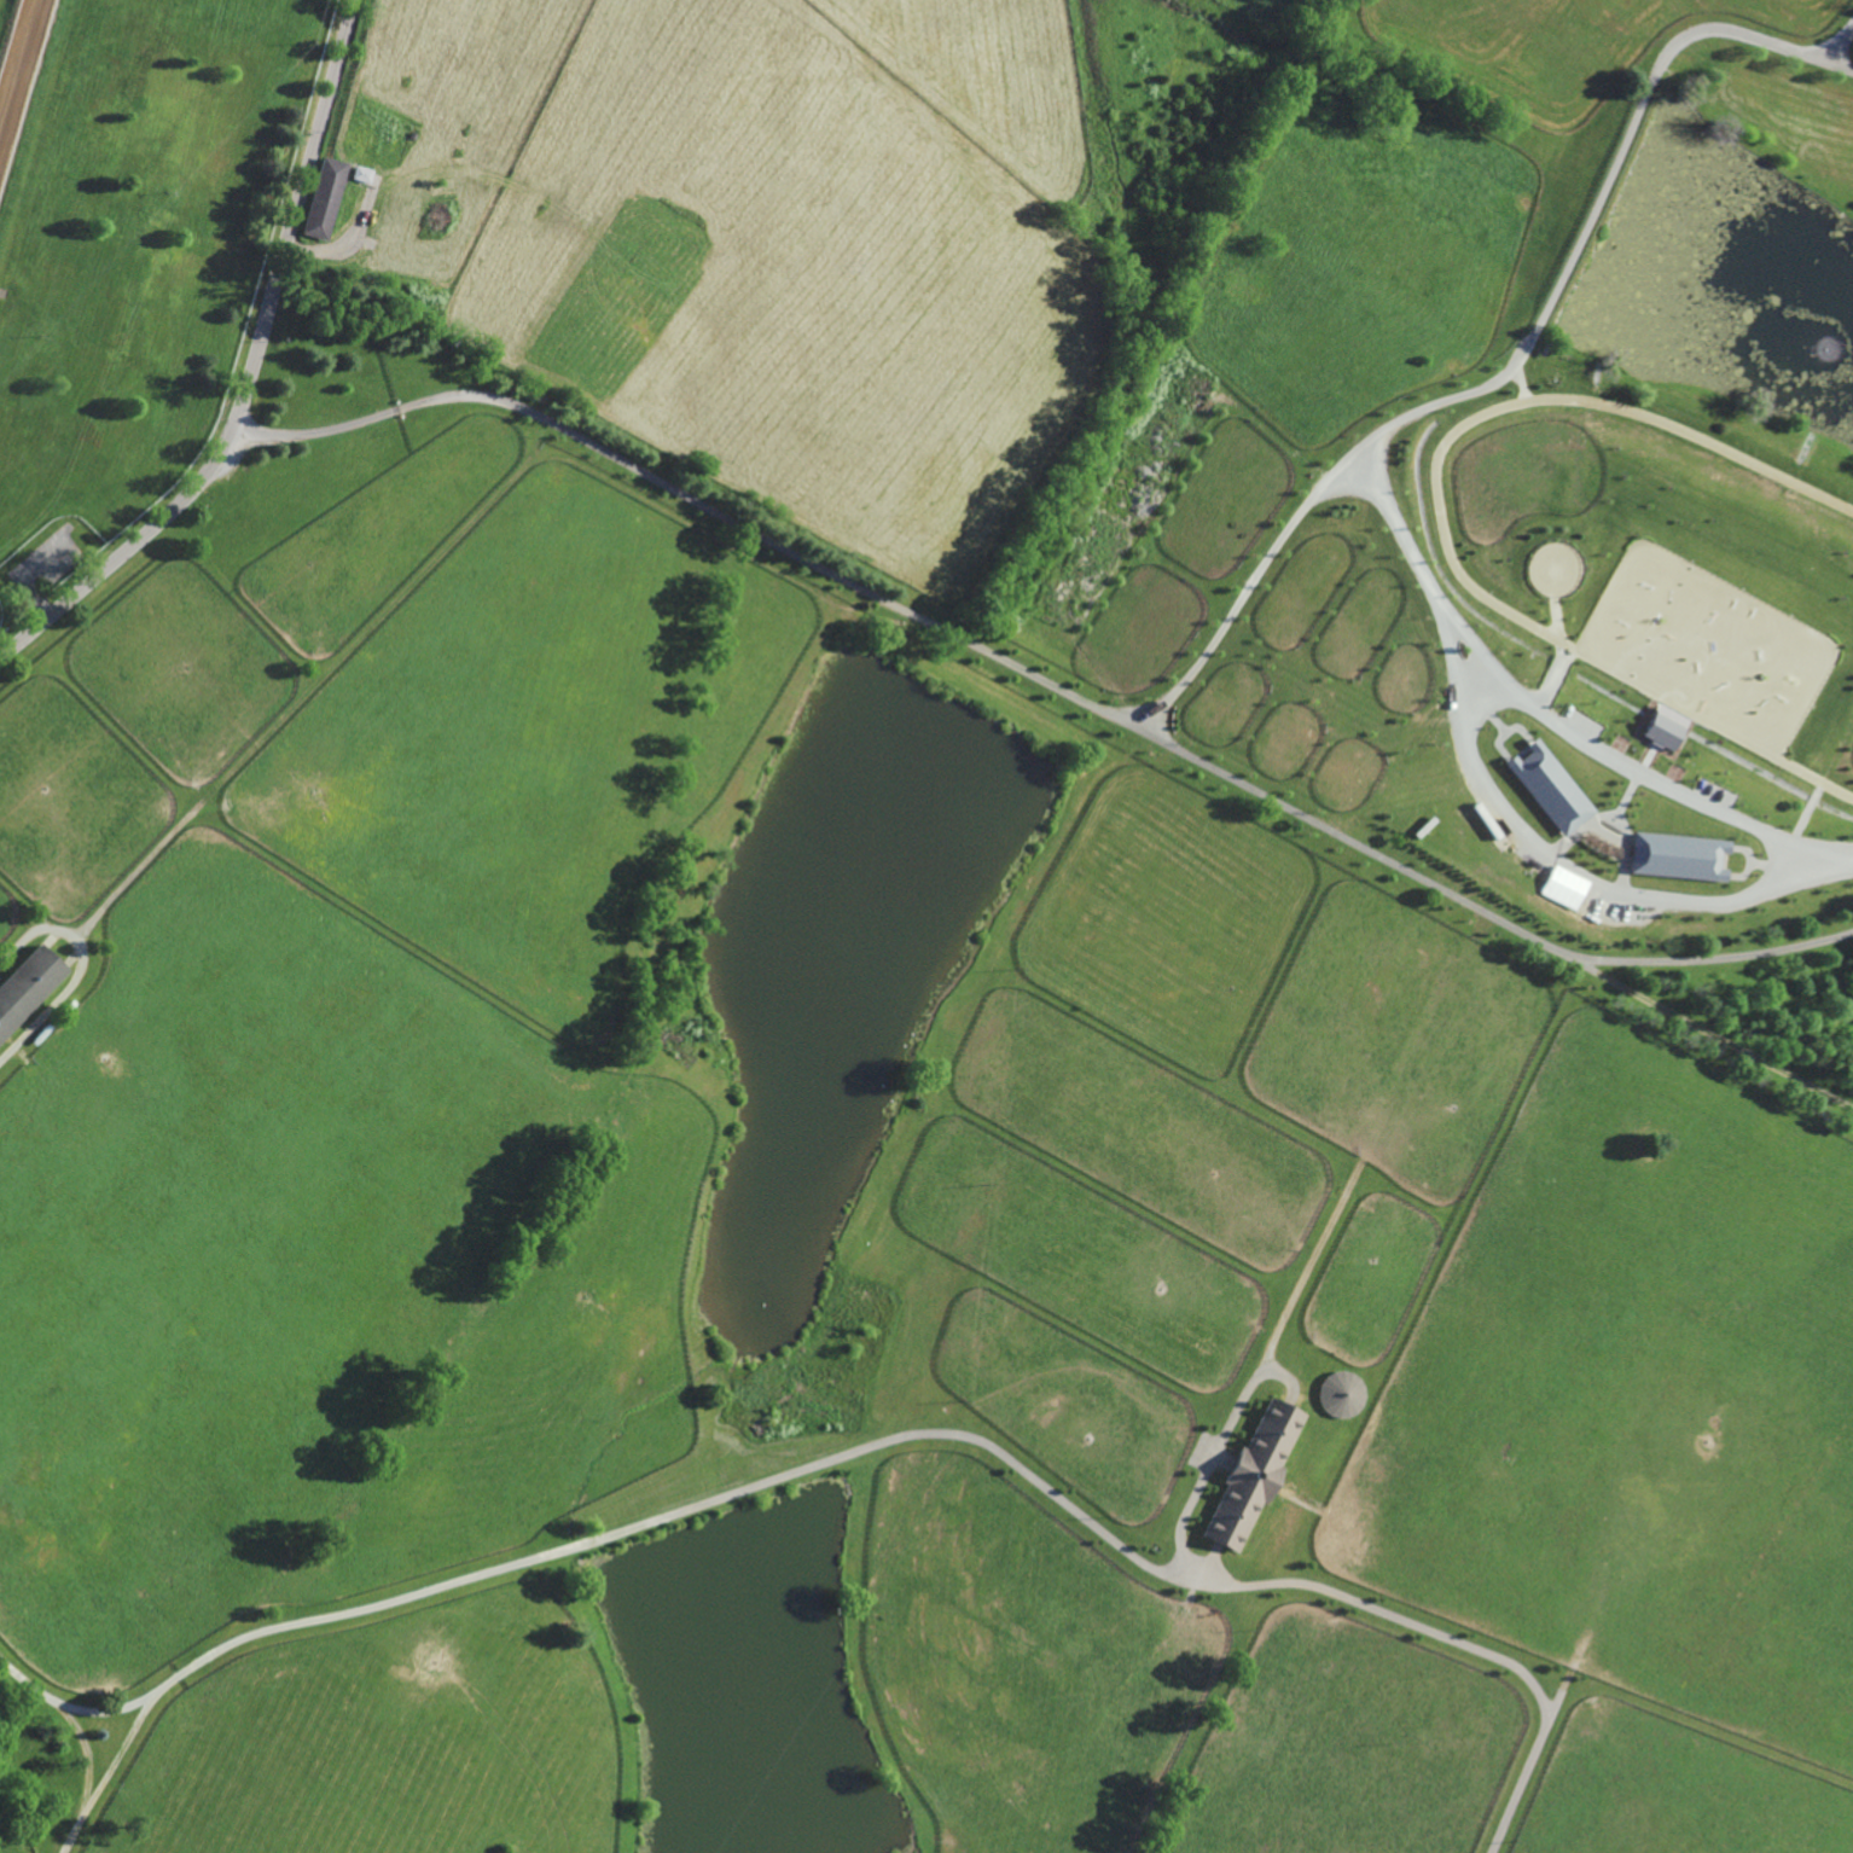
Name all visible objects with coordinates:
road: (1845, 64)
building: (412, 134)
road: (501, 165)
building: (360, 172)
building: (323, 197)
building: (406, 295)
road: (1515, 362)
road: (251, 373)
building: (10, 586)
road: (1040, 689)
building: (1663, 726)
road: (1608, 766)
building: (1549, 786)
road: (1493, 819)
building: (1675, 855)
building: (1566, 887)
road: (79, 969)
building: (28, 983)
road: (1718, 1038)
building: (1251, 1474)
road: (777, 1475)
road: (1442, 1634)
road: (121, 1750)
road: (86, 1756)
road: (71, 1832)

